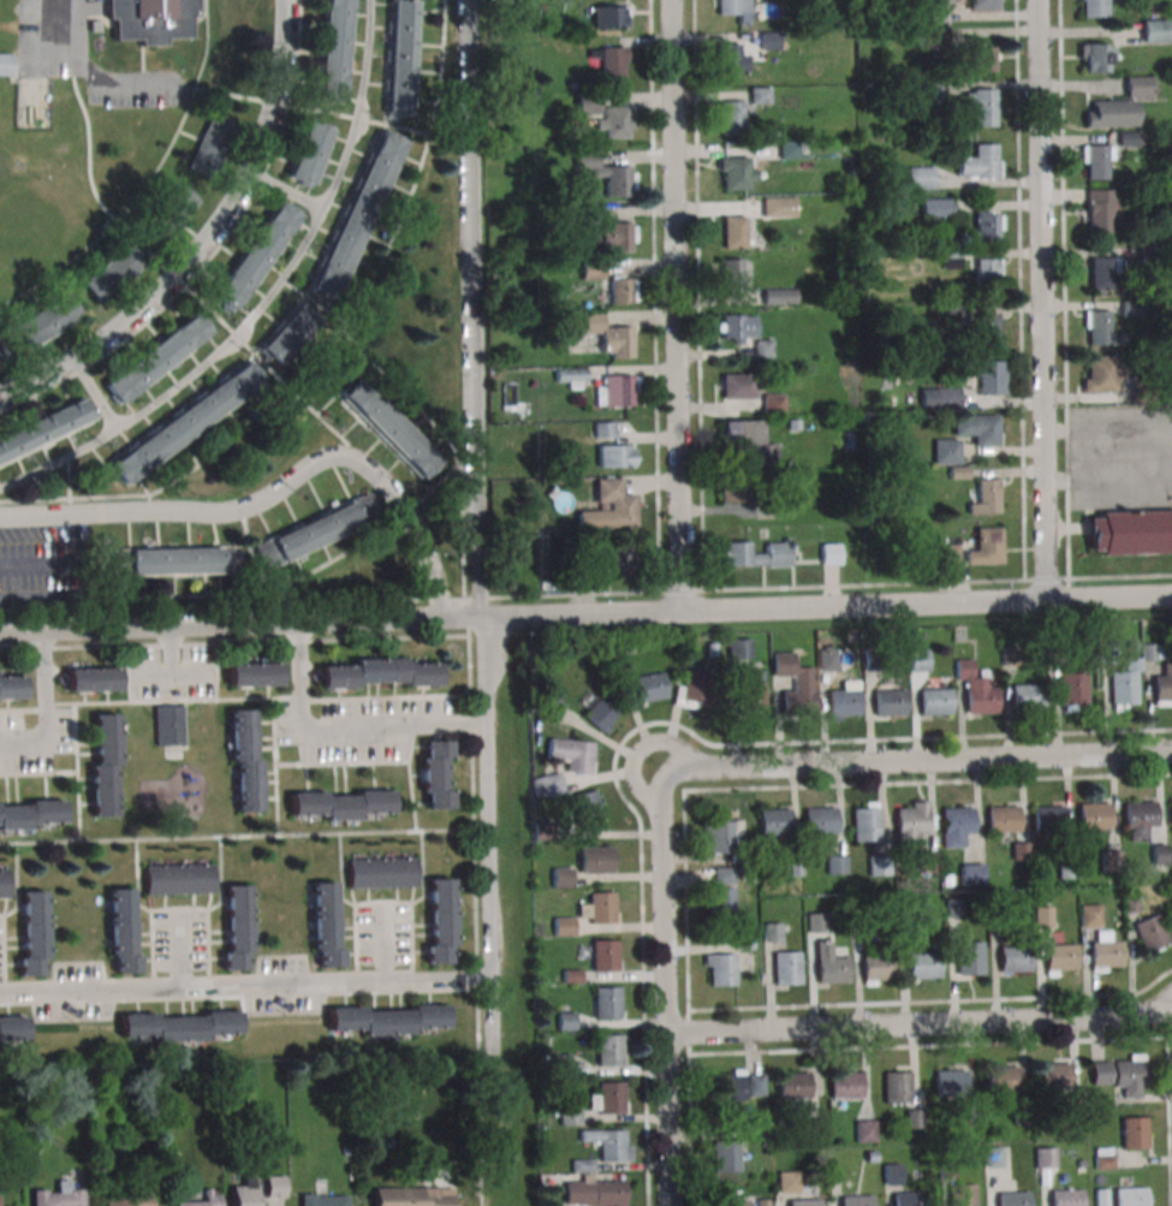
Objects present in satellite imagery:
building: (982, 5)
building: (733, 8)
building: (1094, 8)
building: (609, 16)
building: (150, 19)
building: (1154, 30)
building: (333, 51)
building: (731, 57)
building: (399, 58)
building: (1094, 58)
building: (982, 59)
building: (5, 64)
building: (612, 64)
road: (91, 75)
building: (928, 91)
building: (1119, 105)
building: (982, 111)
building: (732, 118)
building: (614, 121)
building: (212, 144)
building: (309, 153)
building: (983, 161)
building: (1094, 162)
park: (63, 167)
building: (606, 173)
building: (736, 173)
building: (920, 177)
road: (285, 191)
building: (180, 202)
building: (778, 207)
building: (936, 207)
building: (1096, 207)
building: (356, 215)
building: (986, 226)
building: (733, 231)
building: (617, 237)
road: (204, 242)
building: (256, 256)
building: (591, 269)
building: (114, 271)
building: (1100, 274)
building: (732, 275)
building: (986, 277)
building: (623, 290)
building: (779, 296)
road: (1042, 299)
road: (262, 302)
road: (677, 304)
building: (49, 320)
building: (1097, 328)
building: (986, 329)
building: (612, 337)
building: (157, 357)
building: (0, 360)
building: (1096, 373)
building: (572, 376)
building: (990, 379)
building: (738, 386)
building: (617, 390)
road: (100, 392)
building: (940, 397)
building: (773, 404)
building: (185, 426)
building: (389, 427)
building: (605, 429)
building: (976, 429)
road: (1108, 430)
building: (46, 432)
building: (750, 439)
building: (946, 451)
building: (615, 456)
road: (1108, 480)
road: (478, 488)
building: (736, 491)
road: (274, 494)
building: (987, 495)
building: (609, 507)
building: (317, 530)
building: (1130, 534)
building: (987, 546)
building: (950, 553)
building: (755, 554)
building: (617, 558)
building: (174, 560)
road: (41, 570)
road: (808, 605)
road: (221, 623)
building: (739, 648)
building: (918, 660)
road: (172, 669)
building: (381, 673)
building: (254, 675)
road: (155, 676)
building: (94, 679)
building: (12, 687)
building: (649, 687)
building: (1162, 688)
building: (696, 689)
building: (1073, 689)
building: (1123, 689)
building: (1027, 697)
building: (751, 700)
building: (981, 700)
building: (935, 702)
building: (553, 703)
building: (797, 703)
building: (843, 703)
building: (890, 703)
road: (46, 707)
building: (601, 712)
building: (168, 724)
road: (340, 730)
road: (945, 737)
building: (572, 754)
building: (244, 760)
road: (917, 760)
building: (103, 765)
building: (435, 774)
road: (928, 782)
building: (548, 785)
building: (339, 803)
building: (587, 808)
building: (1171, 813)
building: (30, 814)
building: (1140, 815)
building: (1094, 818)
building: (1003, 820)
building: (1048, 820)
building: (820, 821)
building: (774, 822)
building: (865, 826)
building: (910, 826)
building: (956, 827)
building: (721, 836)
building: (1159, 857)
building: (596, 860)
building: (1111, 860)
building: (837, 865)
building: (381, 873)
building: (972, 874)
building: (563, 878)
building: (177, 879)
building: (4, 884)
building: (722, 899)
building: (954, 907)
building: (602, 909)
building: (1090, 915)
building: (1042, 916)
building: (439, 920)
building: (816, 921)
building: (325, 923)
building: (236, 927)
building: (120, 929)
building: (773, 932)
building: (1152, 932)
building: (31, 933)
road: (383, 945)
road: (179, 952)
building: (1106, 955)
building: (605, 957)
building: (970, 957)
building: (1060, 957)
building: (1015, 958)
building: (922, 967)
building: (787, 968)
building: (877, 968)
building: (720, 969)
building: (832, 972)
road: (244, 986)
road: (666, 991)
road: (686, 998)
road: (643, 1002)
road: (933, 1002)
building: (607, 1004)
building: (385, 1018)
building: (566, 1021)
road: (920, 1023)
building: (178, 1026)
building: (12, 1030)
road: (1011, 1042)
building: (609, 1052)
building: (561, 1064)
building: (1120, 1076)
building: (1054, 1077)
building: (1003, 1080)
building: (950, 1083)
building: (845, 1086)
building: (792, 1087)
building: (898, 1087)
building: (727, 1089)
building: (611, 1099)
building: (570, 1116)
building: (915, 1118)
building: (865, 1130)
building: (1135, 1131)
building: (611, 1147)
building: (725, 1157)
building: (994, 1157)
building: (1046, 1158)
building: (1105, 1158)
building: (893, 1174)
building: (787, 1181)
building: (274, 1187)
building: (245, 1193)
building: (595, 1193)
building: (963, 1194)
building: (59, 1196)
building: (414, 1196)
building: (1131, 1196)
building: (733, 1198)
building: (909, 1198)
building: (1013, 1198)
building: (1066, 1198)
building: (126, 1199)
building: (206, 1199)
building: (325, 1200)
building: (856, 1200)
building: (804, 1201)
building: (763, 1202)

